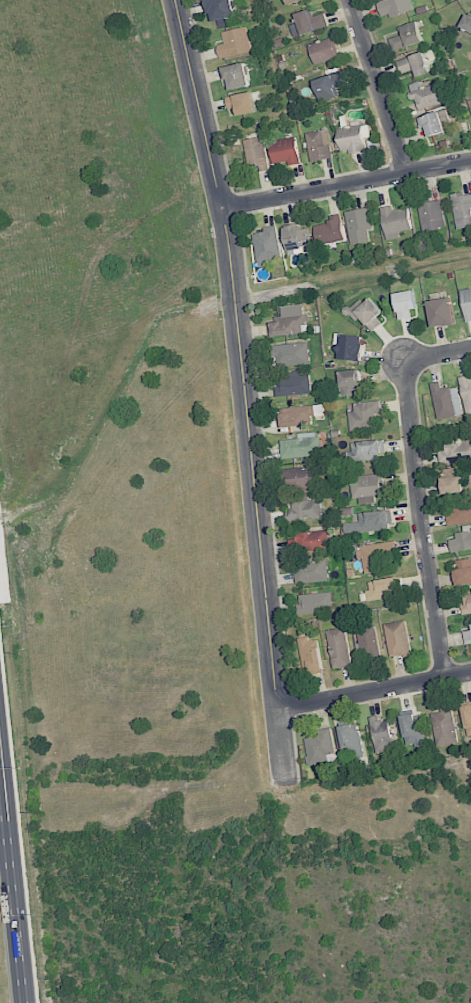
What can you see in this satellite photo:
building: (292, 1)
building: (393, 7)
building: (220, 9)
building: (308, 23)
building: (466, 23)
building: (405, 37)
building: (234, 42)
building: (322, 51)
building: (414, 65)
building: (236, 76)
building: (328, 85)
road: (377, 87)
building: (425, 94)
building: (242, 103)
building: (431, 123)
building: (353, 138)
building: (318, 145)
building: (285, 151)
building: (256, 153)
road: (346, 185)
building: (462, 210)
building: (431, 215)
building: (394, 221)
building: (358, 225)
building: (330, 230)
building: (295, 238)
building: (266, 245)
building: (405, 303)
building: (466, 303)
building: (440, 312)
building: (366, 313)
building: (289, 321)
building: (349, 347)
building: (292, 354)
road: (438, 355)
building: (349, 382)
building: (292, 384)
road: (245, 390)
building: (466, 392)
building: (446, 401)
building: (364, 415)
building: (295, 416)
building: (301, 445)
building: (364, 450)
building: (457, 451)
building: (299, 477)
building: (451, 480)
building: (367, 487)
building: (305, 510)
building: (459, 513)
road: (420, 521)
building: (369, 522)
building: (308, 541)
building: (460, 542)
building: (376, 556)
building: (310, 571)
building: (463, 571)
building: (382, 589)
building: (314, 602)
building: (466, 603)
building: (467, 637)
building: (397, 639)
building: (368, 642)
building: (338, 648)
building: (310, 655)
road: (375, 692)
building: (467, 719)
building: (444, 726)
building: (412, 730)
building: (380, 734)
building: (350, 738)
building: (319, 747)
road: (11, 889)

